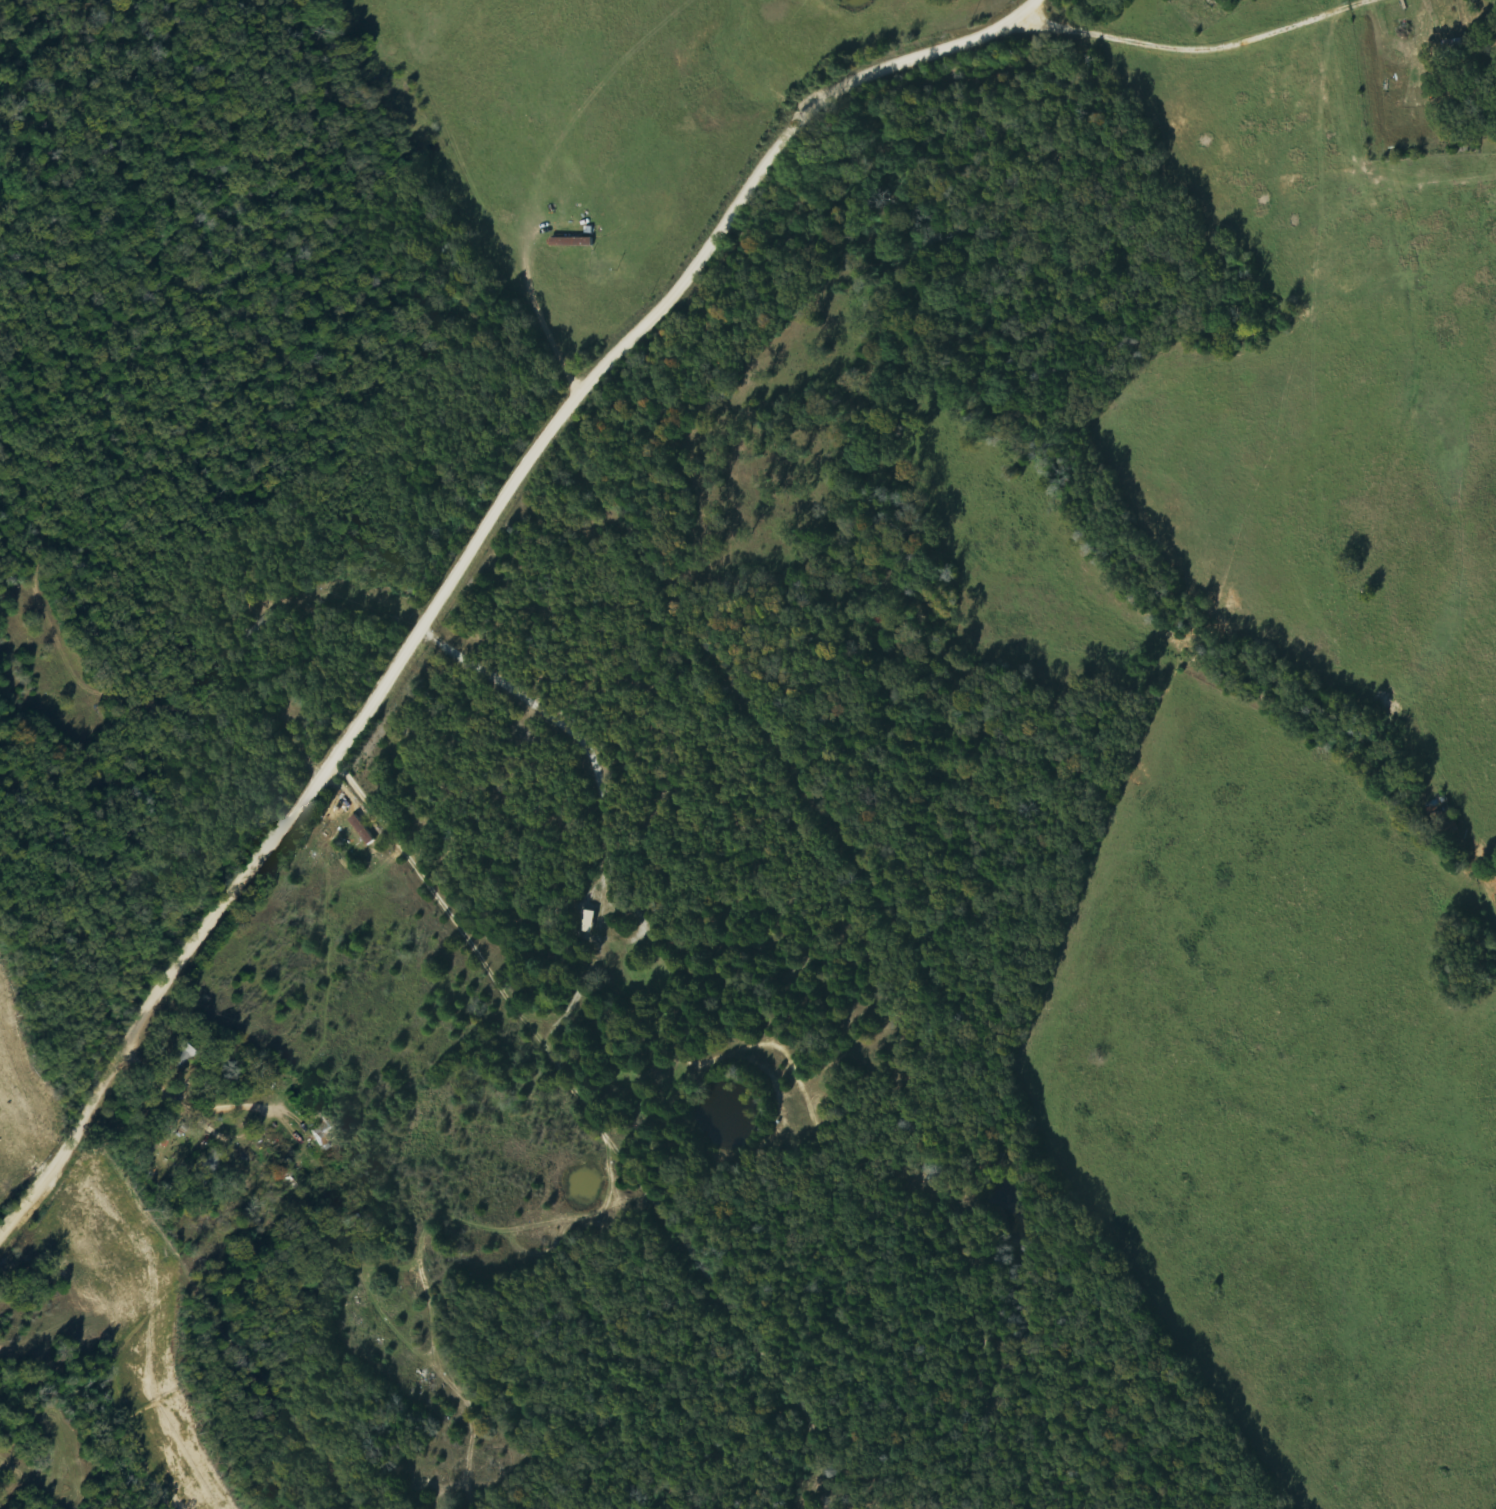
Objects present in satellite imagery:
building: (1456, 49)
building: (574, 242)
road: (467, 563)
building: (590, 920)
building: (184, 1055)
building: (330, 1132)
road: (239, 1141)

